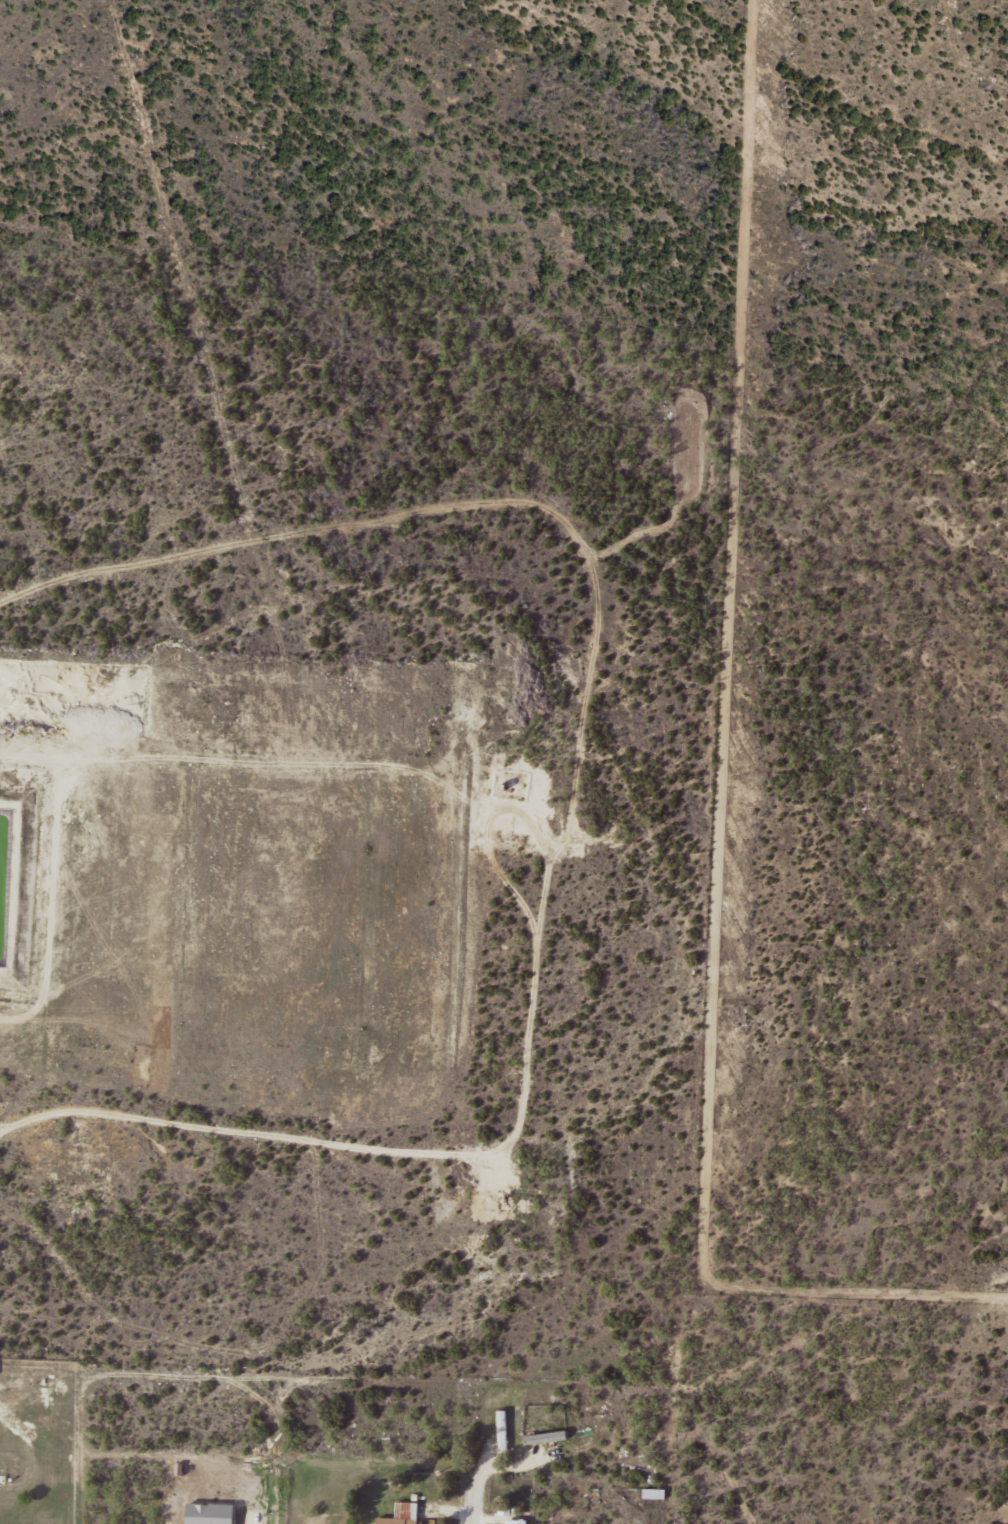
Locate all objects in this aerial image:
building: (656, 1493)
road: (476, 1504)
building: (405, 1514)

